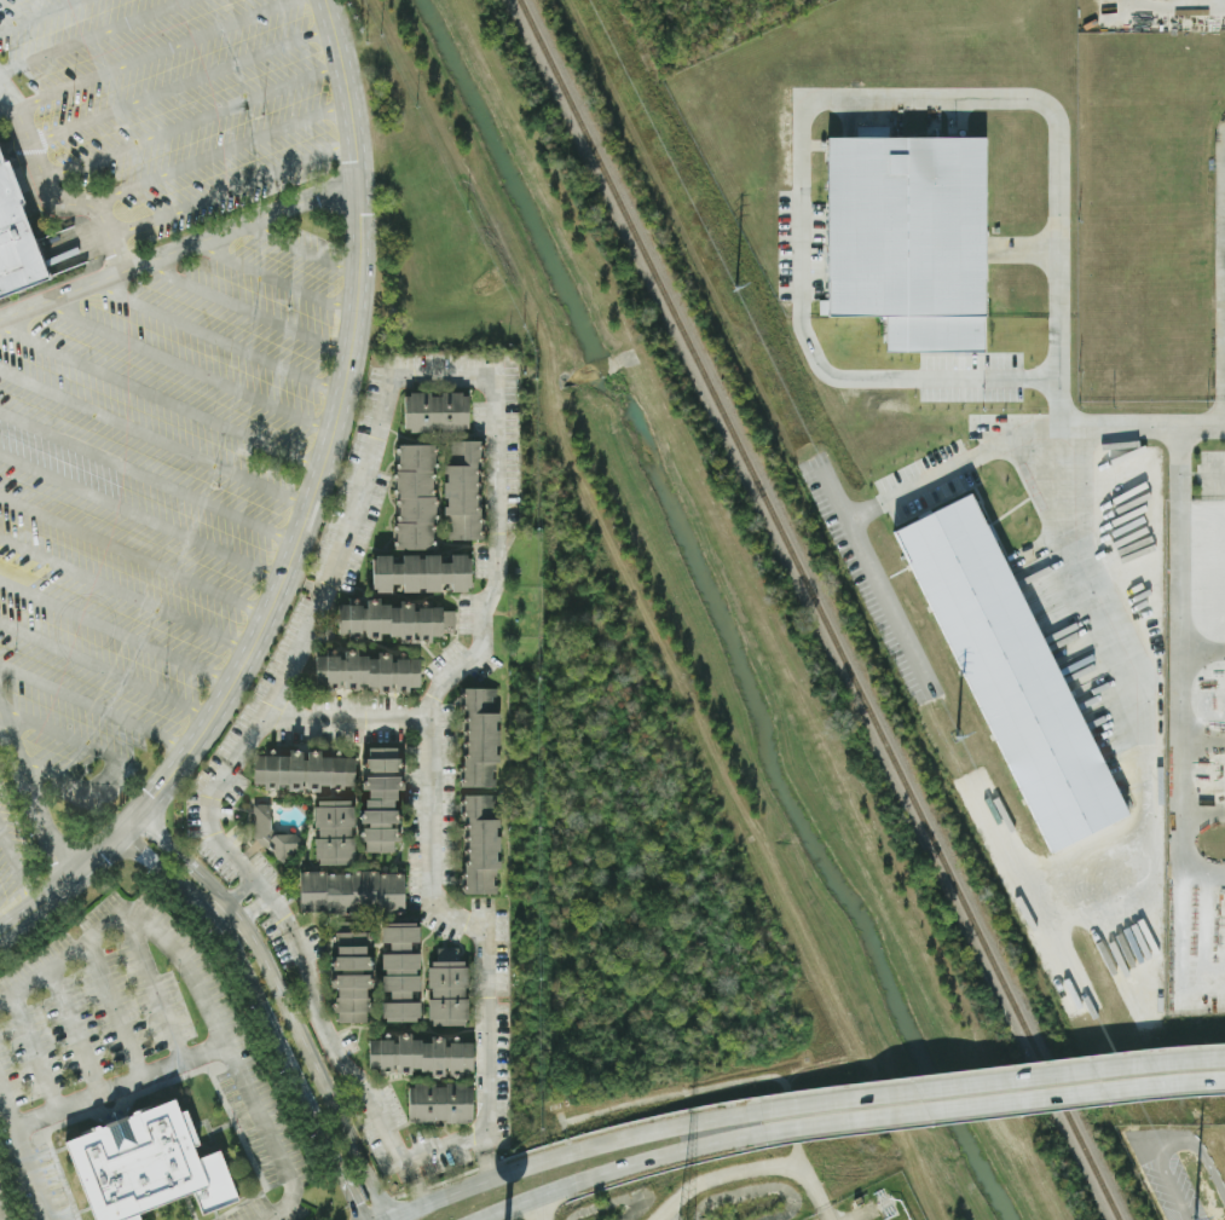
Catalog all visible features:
road: (40, 16)
road: (93, 36)
road: (154, 53)
road: (183, 82)
road: (7, 91)
road: (929, 98)
road: (195, 120)
road: (216, 155)
road: (53, 189)
road: (231, 189)
building: (913, 239)
road: (178, 244)
building: (15, 249)
road: (296, 249)
road: (273, 274)
power tower: (740, 306)
road: (242, 307)
road: (214, 334)
road: (185, 363)
road: (909, 378)
road: (160, 394)
building: (435, 412)
road: (382, 414)
road: (1088, 421)
road: (154, 438)
road: (1180, 462)
road: (150, 473)
road: (1219, 473)
road: (931, 485)
building: (461, 491)
building: (415, 497)
road: (144, 515)
road: (305, 518)
road: (137, 557)
building: (421, 574)
road: (128, 594)
road: (891, 605)
railway: (817, 609)
building: (395, 621)
road: (119, 631)
road: (1120, 667)
road: (106, 669)
building: (366, 672)
building: (1013, 672)
road: (1180, 706)
road: (94, 707)
road: (347, 718)
road: (70, 738)
building: (480, 738)
power tower: (960, 756)
building: (302, 771)
road: (39, 782)
road: (83, 787)
building: (381, 800)
building: (334, 833)
building: (272, 836)
building: (480, 845)
road: (18, 865)
building: (351, 892)
road: (231, 897)
road: (247, 915)
road: (1, 930)
building: (399, 975)
building: (352, 977)
road: (204, 978)
road: (152, 982)
building: (446, 994)
road: (283, 1001)
road: (115, 1002)
road: (261, 1012)
road: (75, 1027)
road: (35, 1048)
building: (420, 1058)
road: (989, 1077)
road: (127, 1079)
road: (992, 1102)
building: (440, 1105)
road: (1166, 1140)
road: (29, 1144)
road: (567, 1151)
road: (487, 1156)
building: (146, 1168)
road: (749, 1168)
road: (618, 1170)
road: (414, 1184)
road: (537, 1209)
power tower: (1181, 1209)
road: (861, 1214)
road: (0, 1216)

